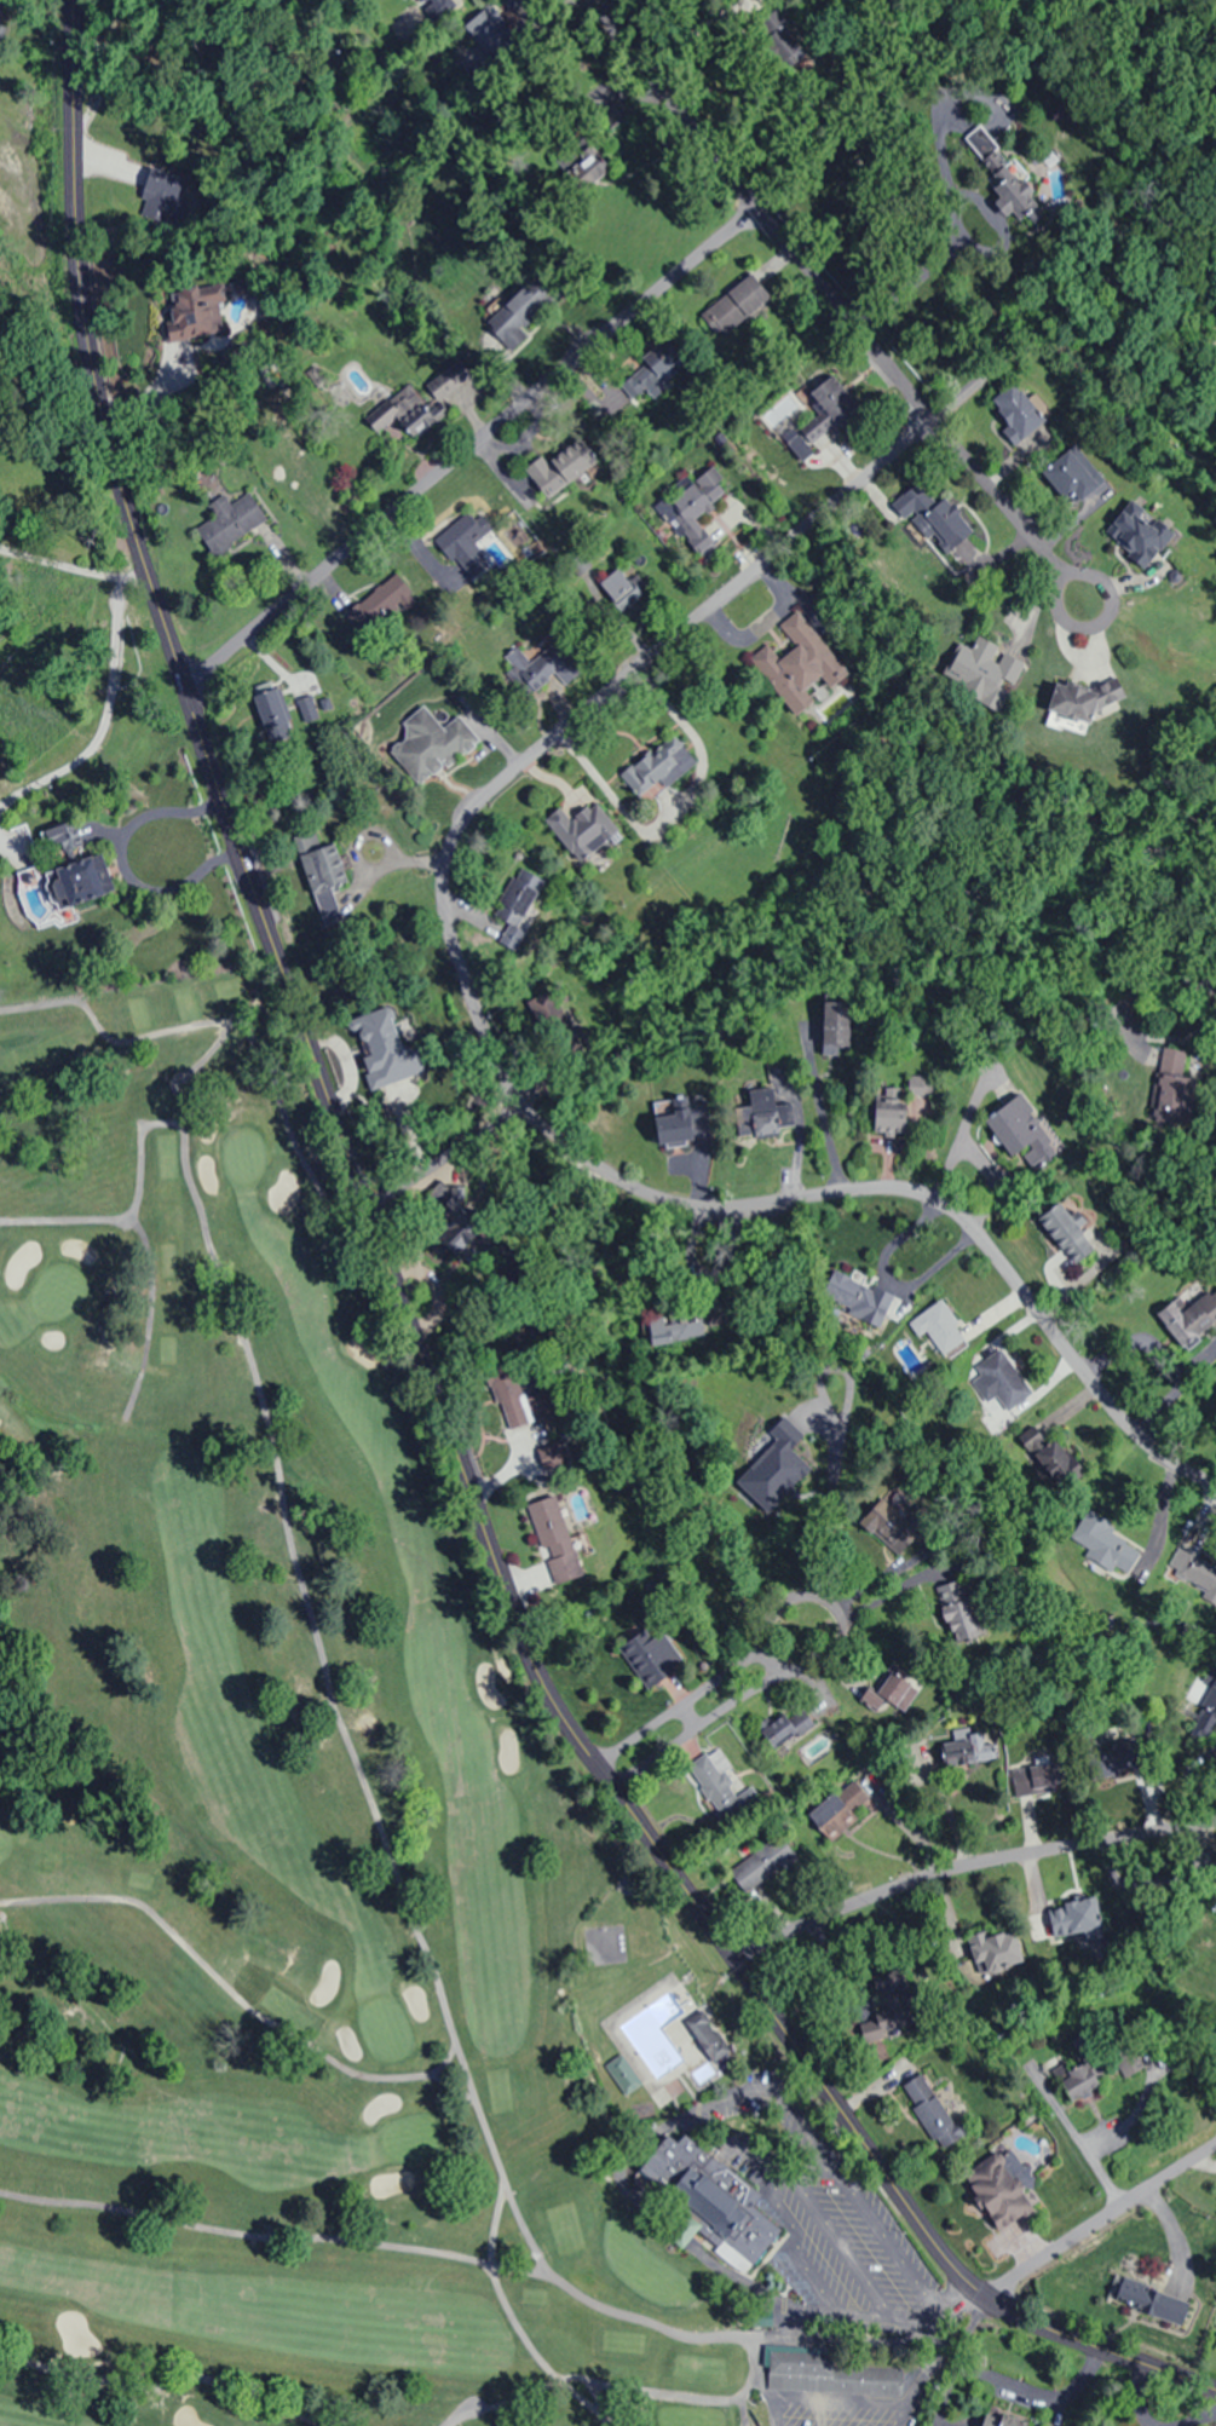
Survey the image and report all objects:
building: (425, 0)
road: (589, 1)
building: (512, 2)
building: (1, 7)
building: (489, 30)
building: (785, 45)
building: (588, 167)
building: (160, 194)
building: (1007, 194)
road: (825, 293)
building: (736, 309)
building: (196, 311)
building: (520, 313)
building: (667, 367)
building: (448, 381)
building: (612, 402)
building: (826, 409)
building: (1015, 411)
building: (400, 415)
road: (469, 444)
building: (561, 468)
building: (1071, 479)
building: (696, 511)
building: (229, 521)
building: (946, 526)
building: (1139, 534)
building: (466, 547)
road: (1089, 626)
building: (799, 667)
building: (541, 668)
building: (986, 672)
building: (1078, 704)
building: (284, 707)
building: (432, 744)
building: (658, 768)
building: (582, 831)
building: (62, 839)
building: (319, 863)
building: (79, 882)
building: (836, 1025)
road: (506, 1076)
building: (892, 1110)
building: (761, 1113)
building: (679, 1119)
building: (1022, 1134)
road: (444, 1157)
building: (1070, 1231)
building: (1191, 1316)
building: (940, 1329)
road: (409, 1330)
building: (997, 1383)
building: (889, 1526)
building: (554, 1539)
road: (835, 1608)
building: (958, 1609)
road: (770, 1658)
building: (652, 1659)
building: (891, 1689)
building: (1209, 1705)
road: (687, 1716)
building: (785, 1727)
building: (967, 1751)
building: (1125, 1751)
building: (1038, 1776)
building: (721, 1786)
building: (840, 1808)
park: (338, 1856)
building: (762, 1863)
road: (968, 1866)
building: (1064, 1921)
building: (998, 1955)
building: (897, 2000)
building: (709, 2036)
building: (348, 2041)
building: (623, 2074)
building: (1078, 2084)
building: (930, 2110)
building: (702, 2183)
building: (998, 2189)
road: (1100, 2220)
building: (684, 2230)
building: (1152, 2300)
building: (825, 2373)
building: (991, 2422)

